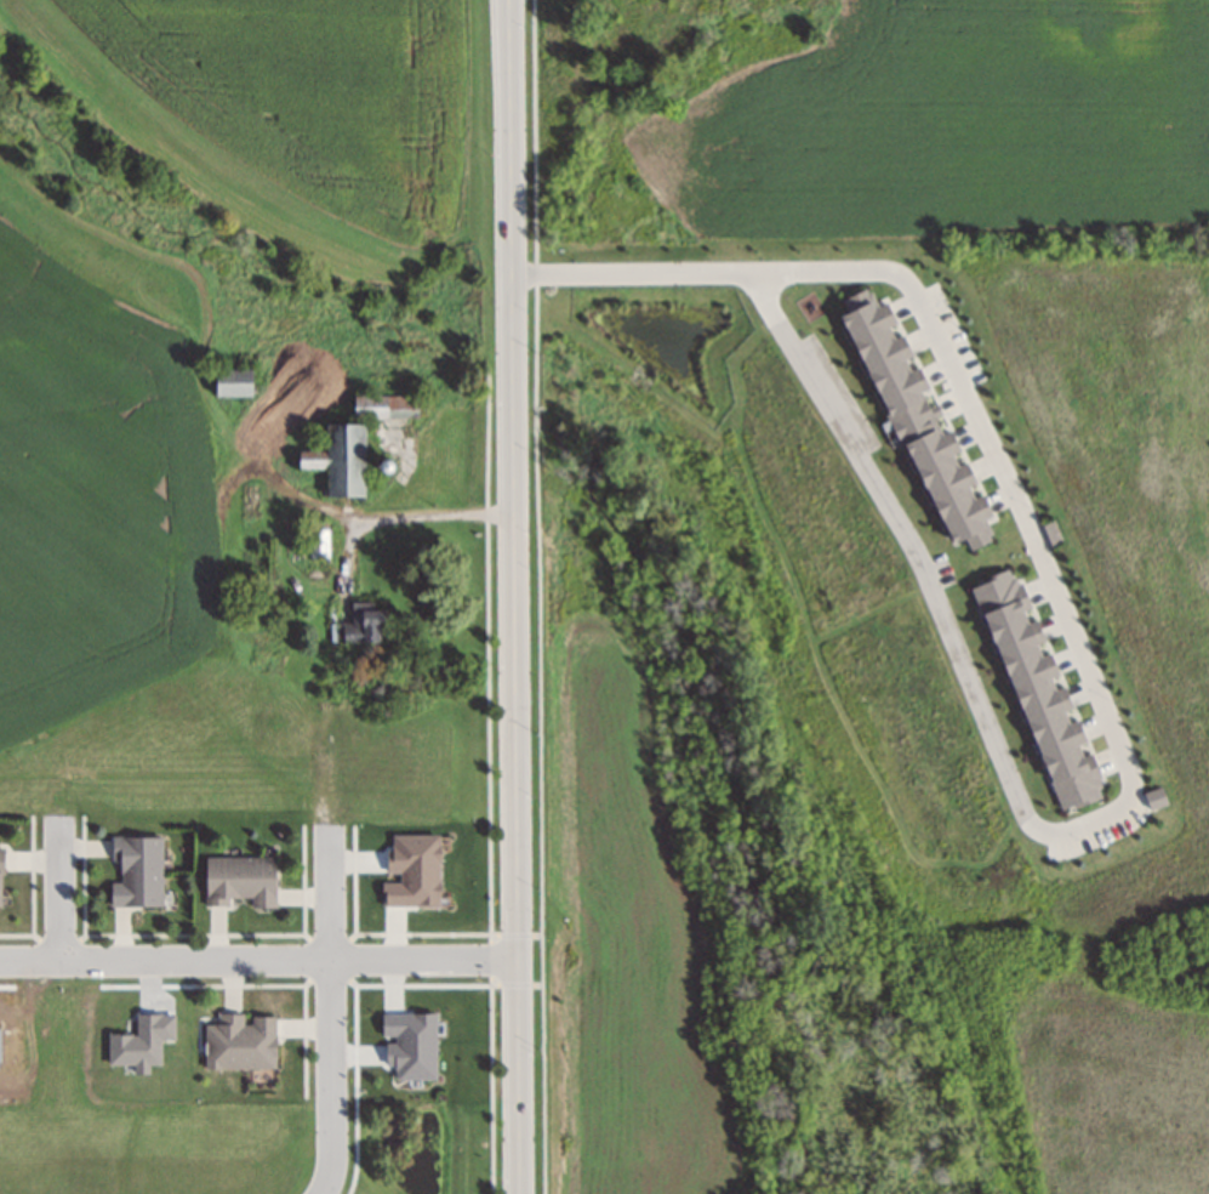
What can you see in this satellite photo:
crop: (245, 124)
building: (230, 382)
building: (383, 408)
building: (337, 461)
building: (316, 542)
road: (519, 596)
building: (360, 626)
road: (1026, 813)
building: (0, 857)
building: (136, 871)
building: (238, 880)
road: (58, 892)
road: (262, 961)
road: (331, 1014)
building: (239, 1041)

